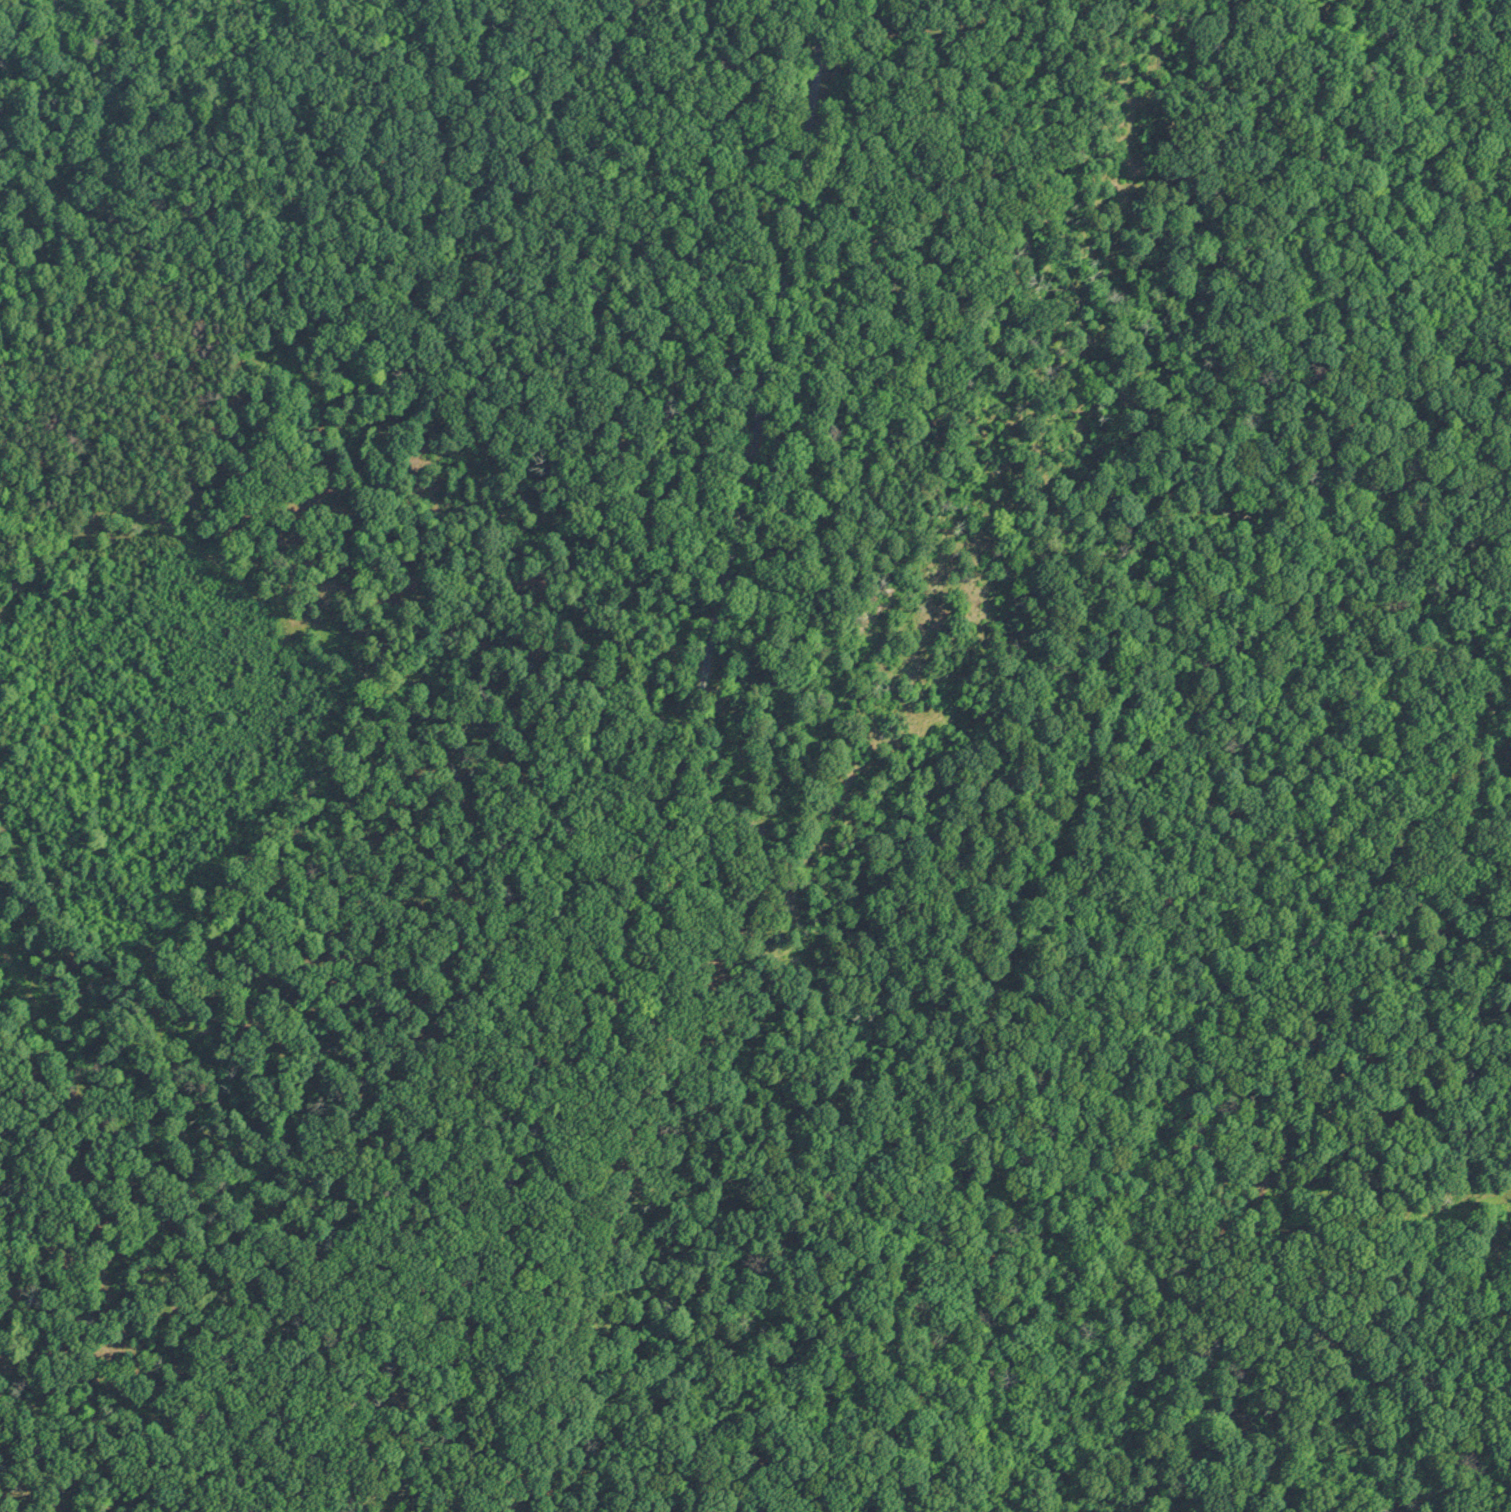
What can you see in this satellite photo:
road: (690, 798)

